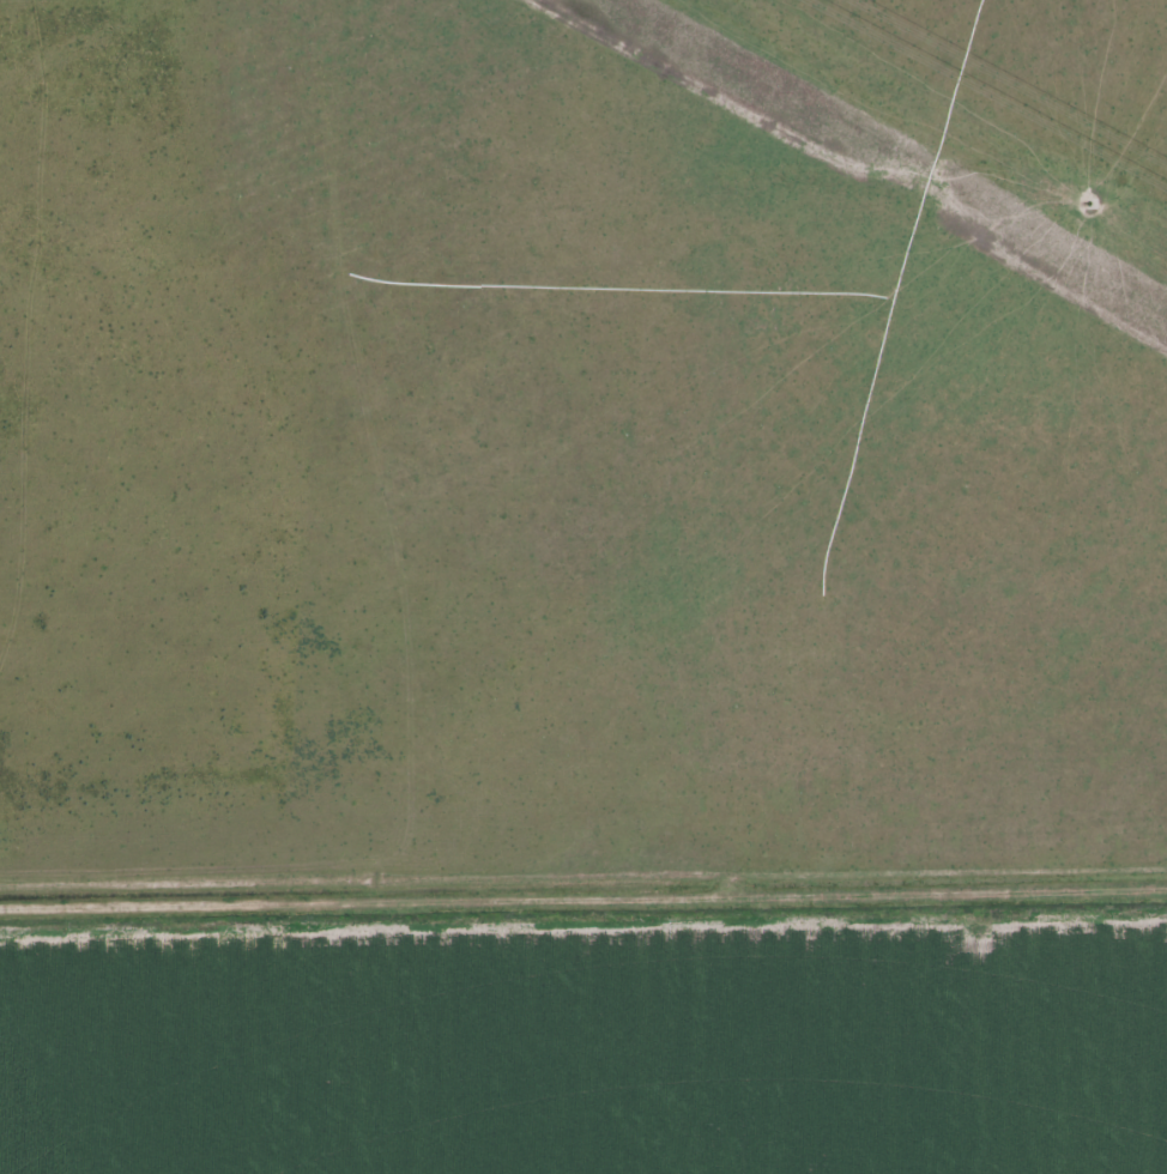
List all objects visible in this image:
road: (583, 875)

